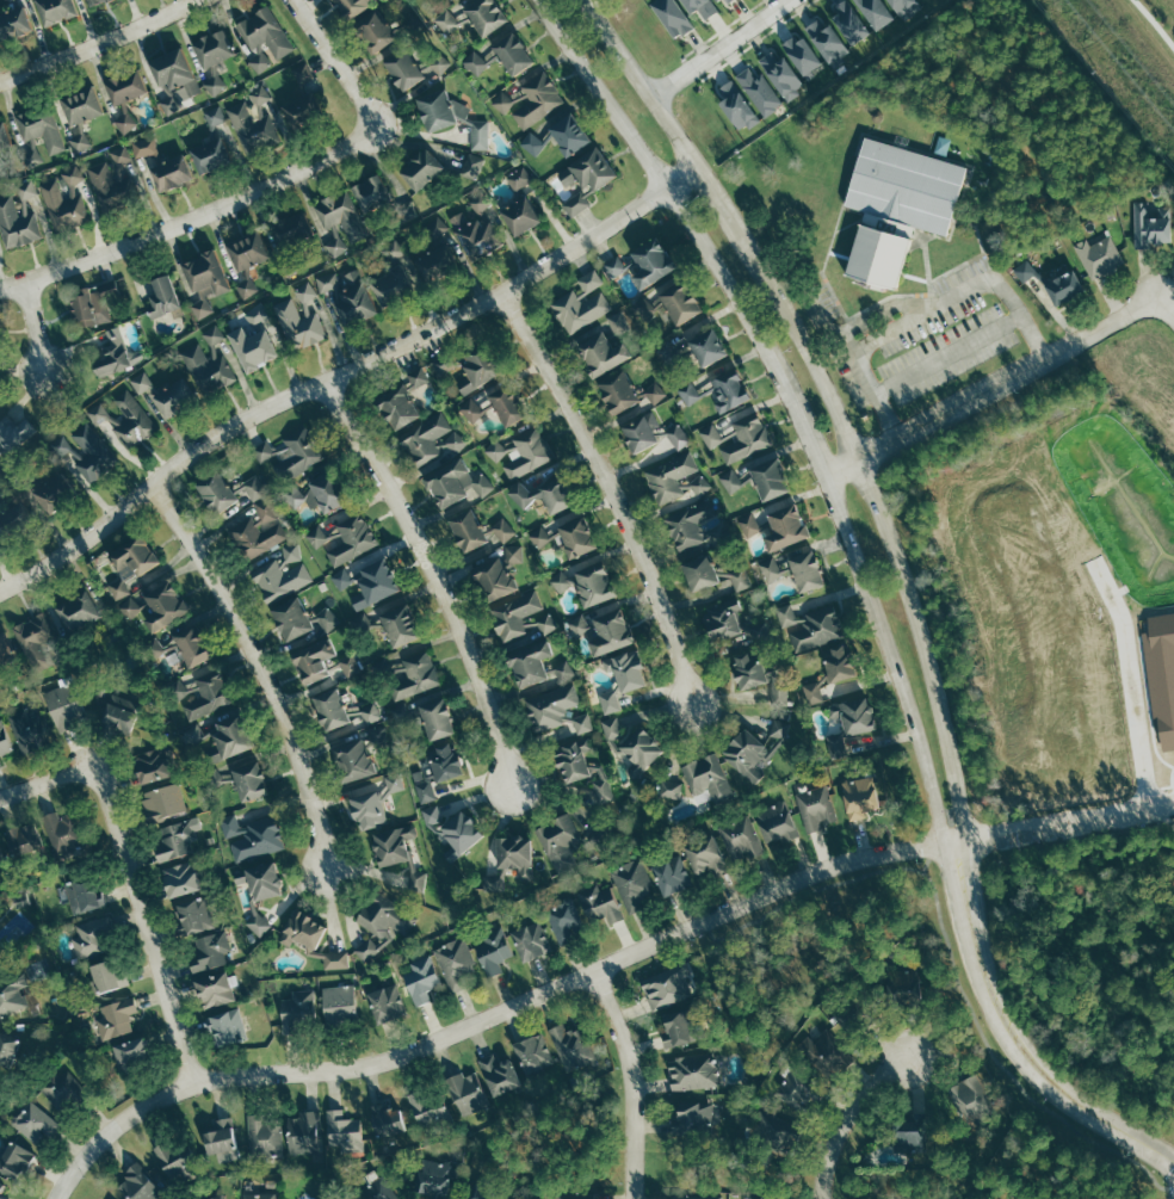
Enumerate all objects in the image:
building: (446, 0)
building: (712, 0)
building: (727, 0)
building: (916, 0)
building: (95, 1)
building: (353, 6)
building: (901, 6)
building: (698, 7)
building: (55, 11)
building: (873, 13)
building: (483, 16)
building: (671, 17)
building: (446, 21)
building: (14, 23)
building: (847, 23)
building: (372, 33)
building: (262, 38)
road: (101, 42)
building: (826, 42)
building: (0, 43)
road: (717, 48)
building: (212, 49)
building: (509, 52)
building: (799, 55)
building: (439, 62)
building: (475, 62)
building: (172, 70)
building: (302, 70)
building: (401, 70)
building: (779, 75)
building: (215, 82)
building: (125, 87)
building: (759, 91)
building: (536, 100)
building: (502, 101)
building: (735, 106)
building: (438, 109)
building: (304, 111)
building: (80, 113)
building: (215, 116)
building: (123, 120)
building: (251, 128)
building: (37, 134)
building: (478, 135)
building: (567, 135)
building: (4, 137)
building: (533, 143)
building: (143, 147)
building: (123, 155)
building: (211, 155)
building: (472, 165)
building: (420, 169)
building: (172, 173)
building: (519, 178)
building: (585, 180)
building: (109, 185)
building: (25, 190)
road: (258, 190)
building: (370, 192)
building: (63, 200)
building: (896, 206)
building: (340, 215)
building: (518, 217)
building: (16, 224)
building: (1153, 224)
building: (291, 230)
building: (457, 239)
building: (335, 243)
building: (247, 251)
building: (1098, 254)
building: (651, 262)
building: (437, 266)
building: (613, 266)
building: (204, 280)
building: (327, 282)
building: (391, 286)
building: (1065, 286)
building: (245, 288)
road: (964, 289)
building: (163, 298)
building: (353, 299)
building: (579, 302)
building: (680, 303)
building: (92, 304)
building: (643, 308)
road: (1168, 311)
building: (298, 317)
road: (859, 321)
building: (614, 323)
road: (31, 328)
building: (253, 338)
parking lot: (927, 341)
building: (708, 346)
building: (0, 352)
building: (601, 352)
road: (947, 354)
building: (111, 356)
building: (205, 363)
building: (444, 363)
building: (480, 365)
road: (344, 375)
building: (415, 376)
building: (1, 379)
building: (142, 384)
building: (728, 388)
road: (869, 388)
building: (618, 391)
building: (654, 391)
building: (688, 391)
road: (994, 391)
road: (826, 396)
building: (175, 398)
road: (790, 400)
building: (498, 403)
building: (123, 420)
building: (639, 432)
building: (13, 433)
building: (675, 435)
building: (709, 435)
building: (746, 437)
building: (424, 438)
building: (453, 441)
building: (496, 449)
building: (261, 451)
building: (91, 452)
building: (526, 452)
building: (295, 453)
building: (674, 477)
building: (771, 478)
building: (730, 481)
building: (447, 482)
building: (252, 487)
building: (217, 490)
building: (54, 492)
road: (612, 492)
building: (292, 494)
building: (548, 494)
building: (14, 520)
building: (753, 524)
building: (688, 525)
building: (786, 526)
building: (257, 530)
building: (468, 530)
building: (501, 530)
building: (317, 536)
building: (539, 536)
building: (577, 536)
building: (350, 538)
building: (514, 554)
building: (130, 562)
building: (798, 569)
building: (700, 571)
building: (282, 574)
road: (439, 575)
building: (495, 579)
building: (741, 579)
building: (587, 582)
building: (373, 583)
building: (165, 605)
building: (128, 607)
building: (79, 611)
building: (513, 616)
building: (292, 618)
building: (325, 618)
building: (364, 622)
building: (729, 623)
building: (401, 624)
building: (544, 624)
building: (810, 626)
building: (611, 631)
building: (35, 638)
building: (192, 644)
building: (5, 648)
building: (157, 648)
building: (314, 661)
building: (839, 662)
road: (267, 665)
building: (350, 665)
building: (535, 666)
building: (750, 669)
building: (628, 670)
building: (414, 675)
building: (177, 688)
building: (210, 692)
building: (811, 692)
building: (779, 696)
building: (606, 704)
building: (64, 705)
building: (332, 709)
building: (554, 710)
building: (367, 712)
building: (118, 713)
building: (854, 713)
building: (437, 718)
building: (610, 728)
building: (26, 730)
building: (193, 734)
building: (375, 735)
building: (230, 736)
building: (4, 740)
building: (835, 746)
building: (641, 750)
building: (746, 754)
building: (354, 759)
building: (0, 761)
building: (153, 765)
building: (580, 767)
building: (438, 768)
building: (706, 779)
building: (249, 780)
road: (98, 781)
building: (668, 789)
building: (861, 795)
building: (161, 803)
building: (815, 808)
building: (367, 809)
building: (431, 815)
building: (776, 822)
road: (1065, 827)
building: (62, 829)
building: (461, 833)
building: (600, 834)
building: (249, 835)
building: (24, 838)
building: (739, 839)
building: (174, 840)
building: (557, 841)
building: (393, 846)
building: (517, 854)
building: (706, 855)
building: (1, 866)
building: (671, 876)
building: (180, 878)
building: (262, 879)
building: (414, 879)
building: (420, 880)
building: (631, 884)
building: (84, 892)
building: (21, 897)
building: (599, 904)
building: (193, 915)
building: (564, 921)
building: (257, 923)
building: (379, 923)
building: (302, 929)
building: (91, 934)
building: (530, 940)
building: (492, 950)
building: (208, 952)
building: (335, 959)
building: (455, 963)
building: (106, 975)
building: (420, 978)
road: (167, 981)
building: (666, 987)
building: (906, 987)
building: (214, 989)
building: (12, 993)
building: (385, 1002)
building: (339, 1006)
building: (296, 1009)
building: (853, 1013)
building: (116, 1015)
road: (493, 1015)
building: (681, 1026)
building: (225, 1027)
road: (1009, 1038)
building: (570, 1046)
building: (7, 1049)
building: (531, 1052)
building: (832, 1052)
building: (132, 1053)
building: (691, 1070)
building: (498, 1074)
road: (631, 1081)
building: (61, 1089)
building: (465, 1090)
building: (799, 1093)
building: (971, 1102)
building: (427, 1108)
building: (387, 1118)
building: (692, 1118)
road: (842, 1118)
building: (32, 1123)
building: (341, 1130)
building: (774, 1130)
building: (908, 1131)
building: (302, 1132)
building: (262, 1136)
building: (218, 1138)
building: (14, 1160)
building: (175, 1161)
building: (432, 1179)
building: (136, 1185)
building: (1, 1186)
building: (375, 1191)
building: (480, 1192)
building: (573, 1195)
building: (216, 1197)
building: (257, 1197)
building: (696, 1197)
building: (1, 1198)

